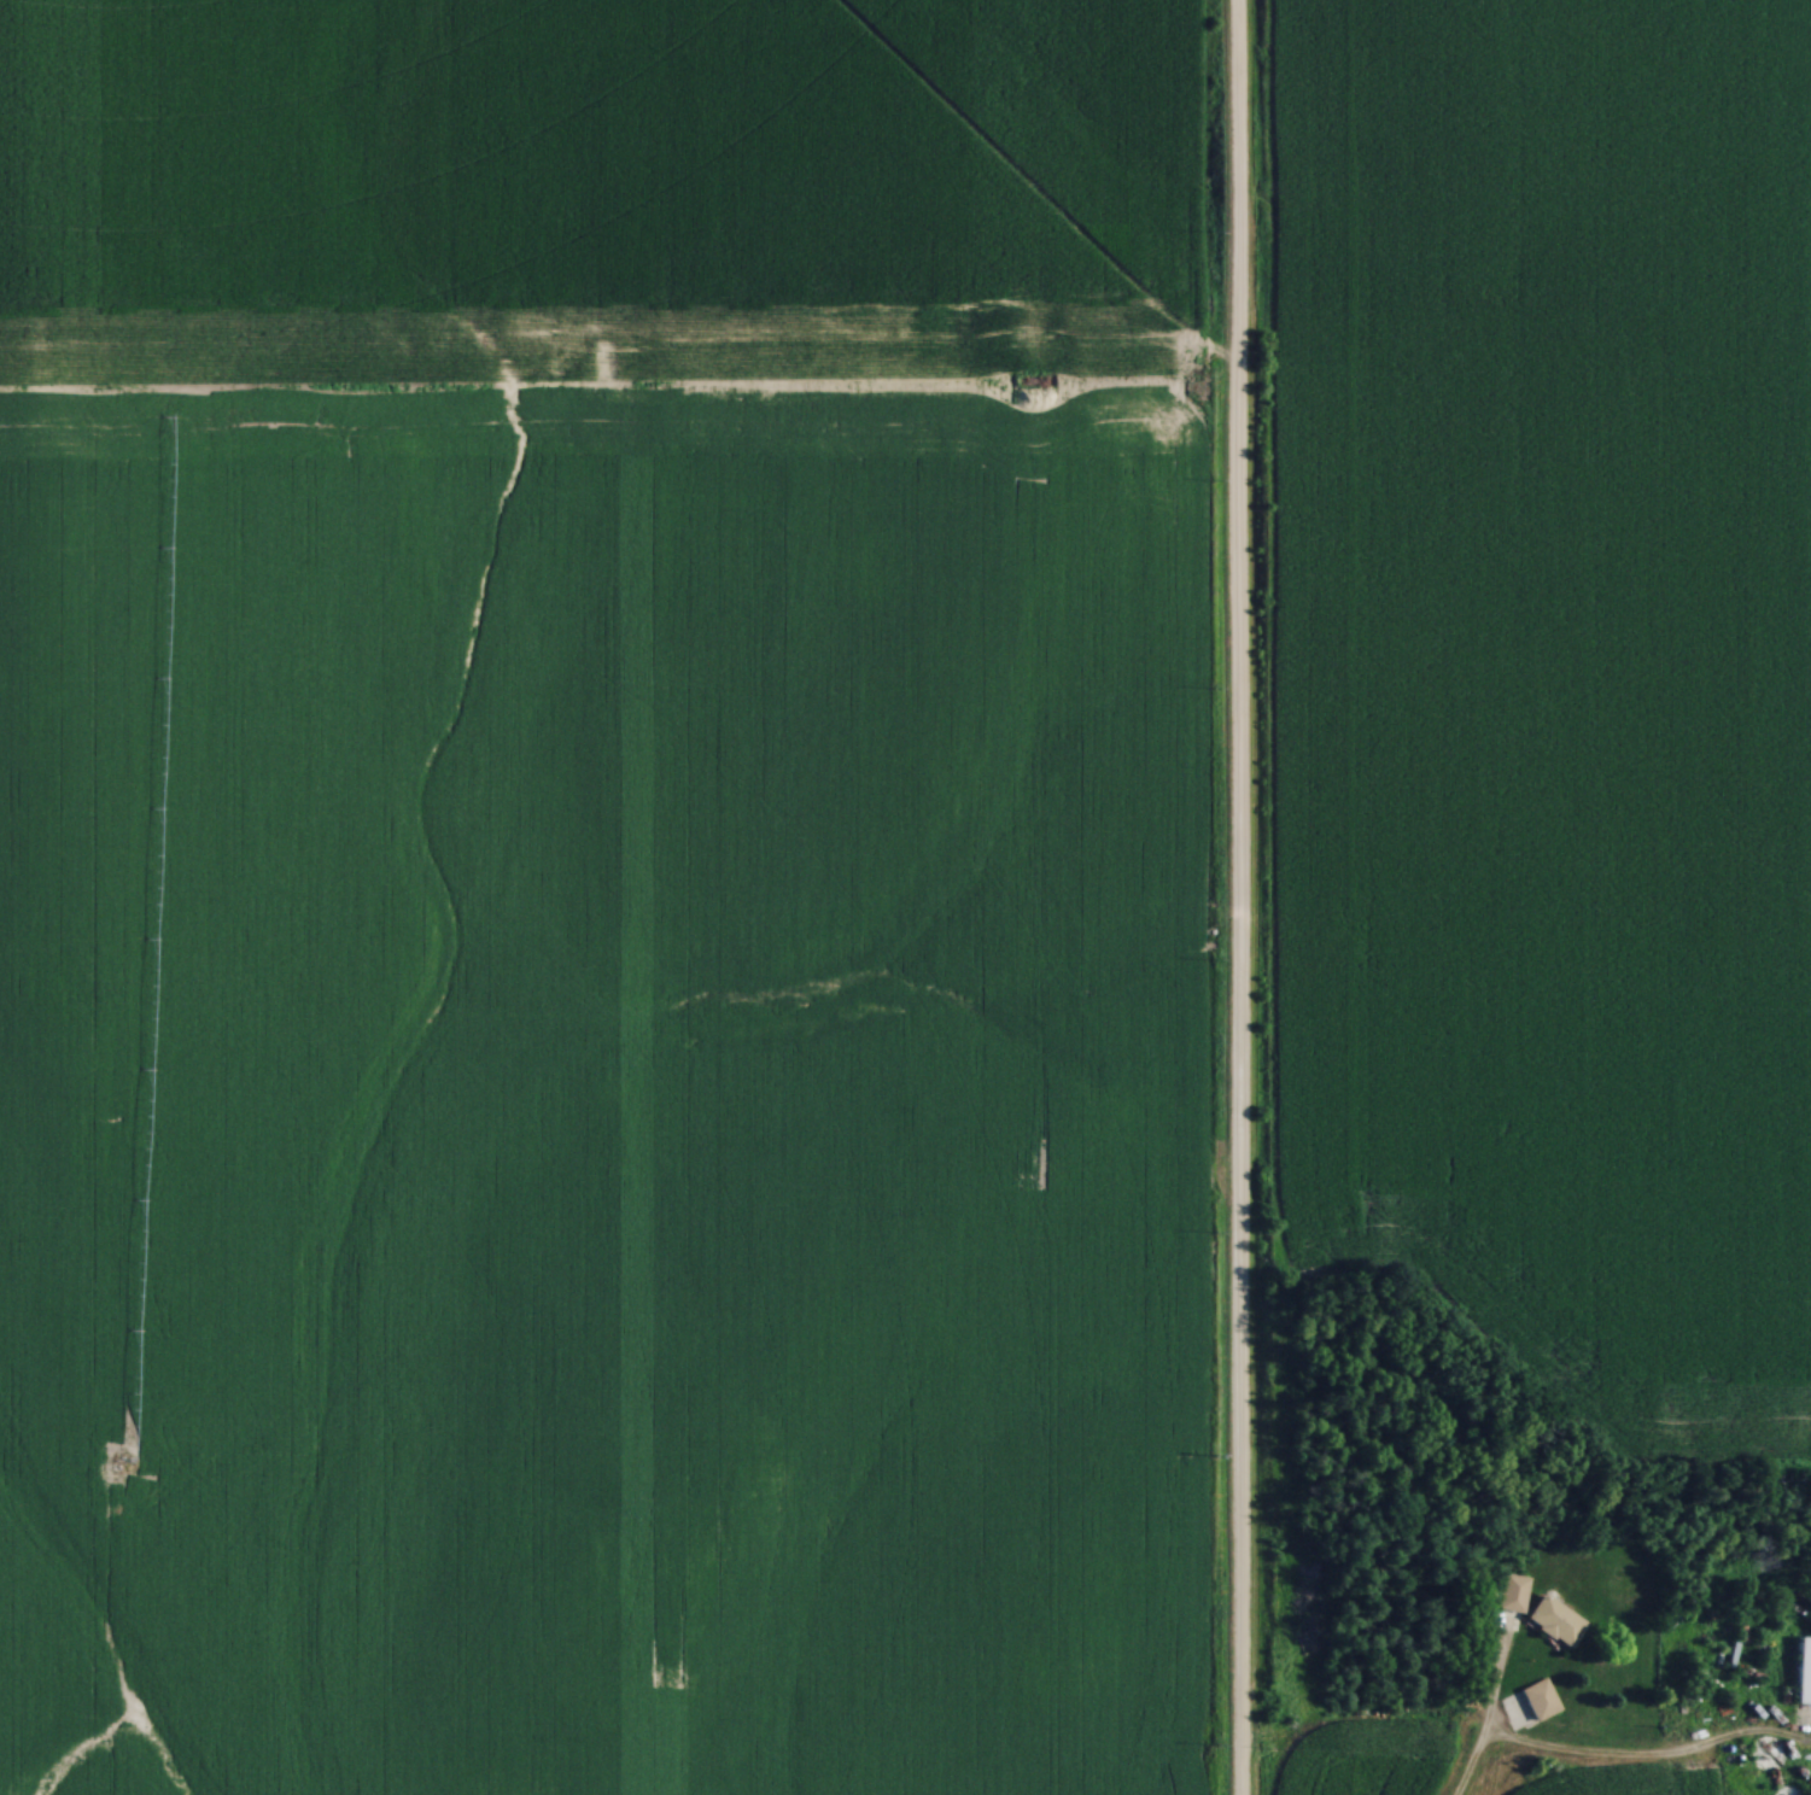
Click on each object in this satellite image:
crop: (1553, 680)
road: (1234, 897)
building: (1511, 1591)
building: (1558, 1622)
building: (1803, 1674)
building: (1530, 1705)
road: (1480, 1720)
building: (1764, 1753)
building: (1784, 1790)

